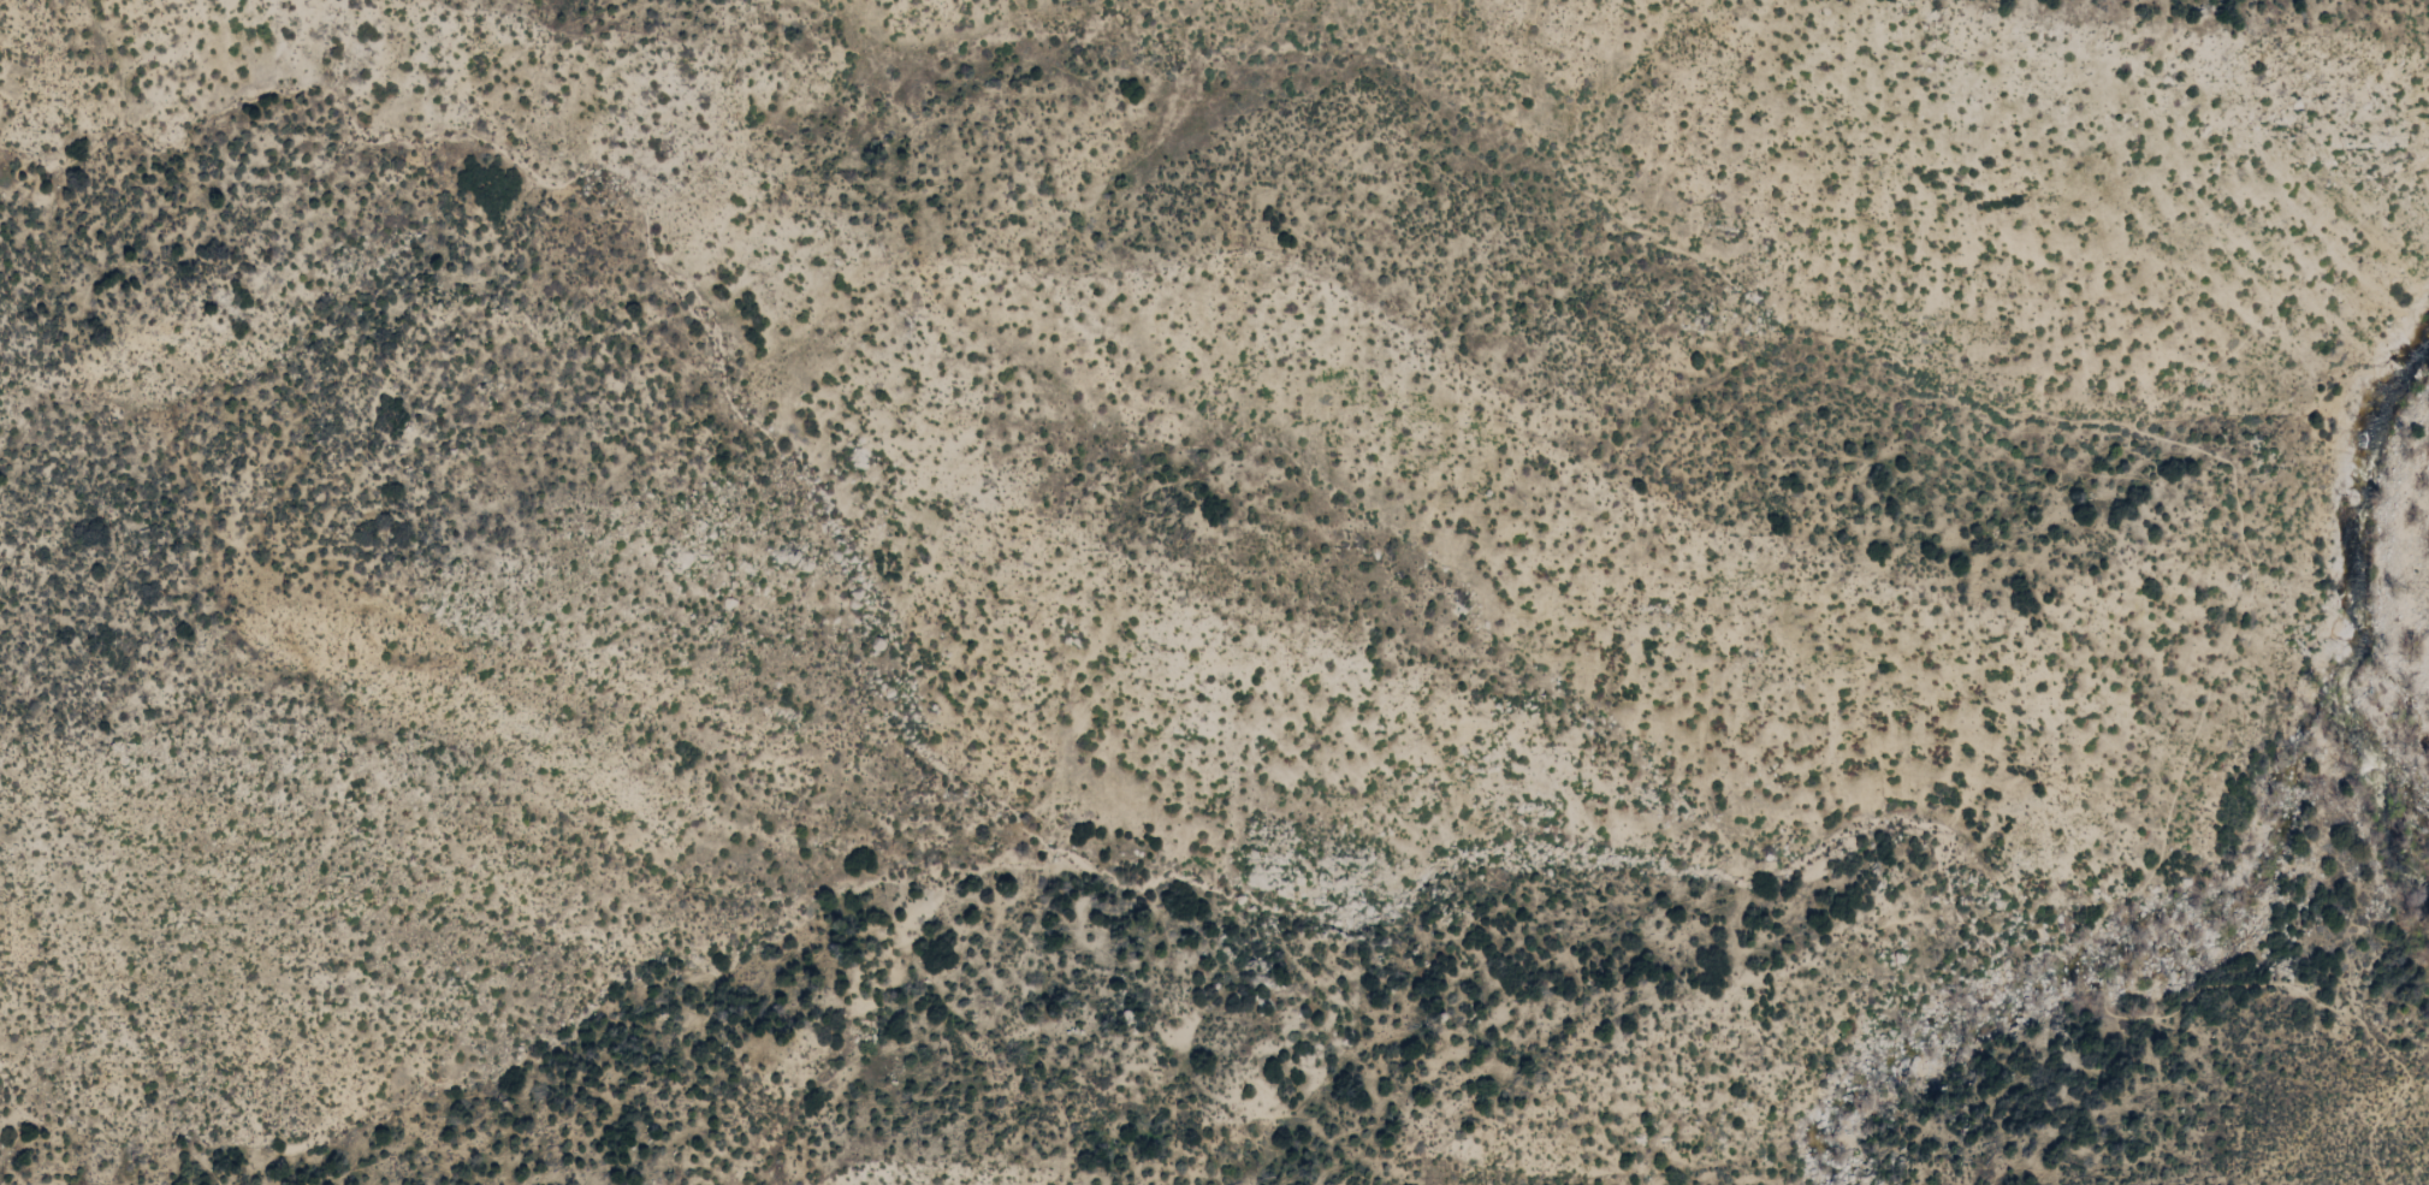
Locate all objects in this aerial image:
road: (2191, 736)

